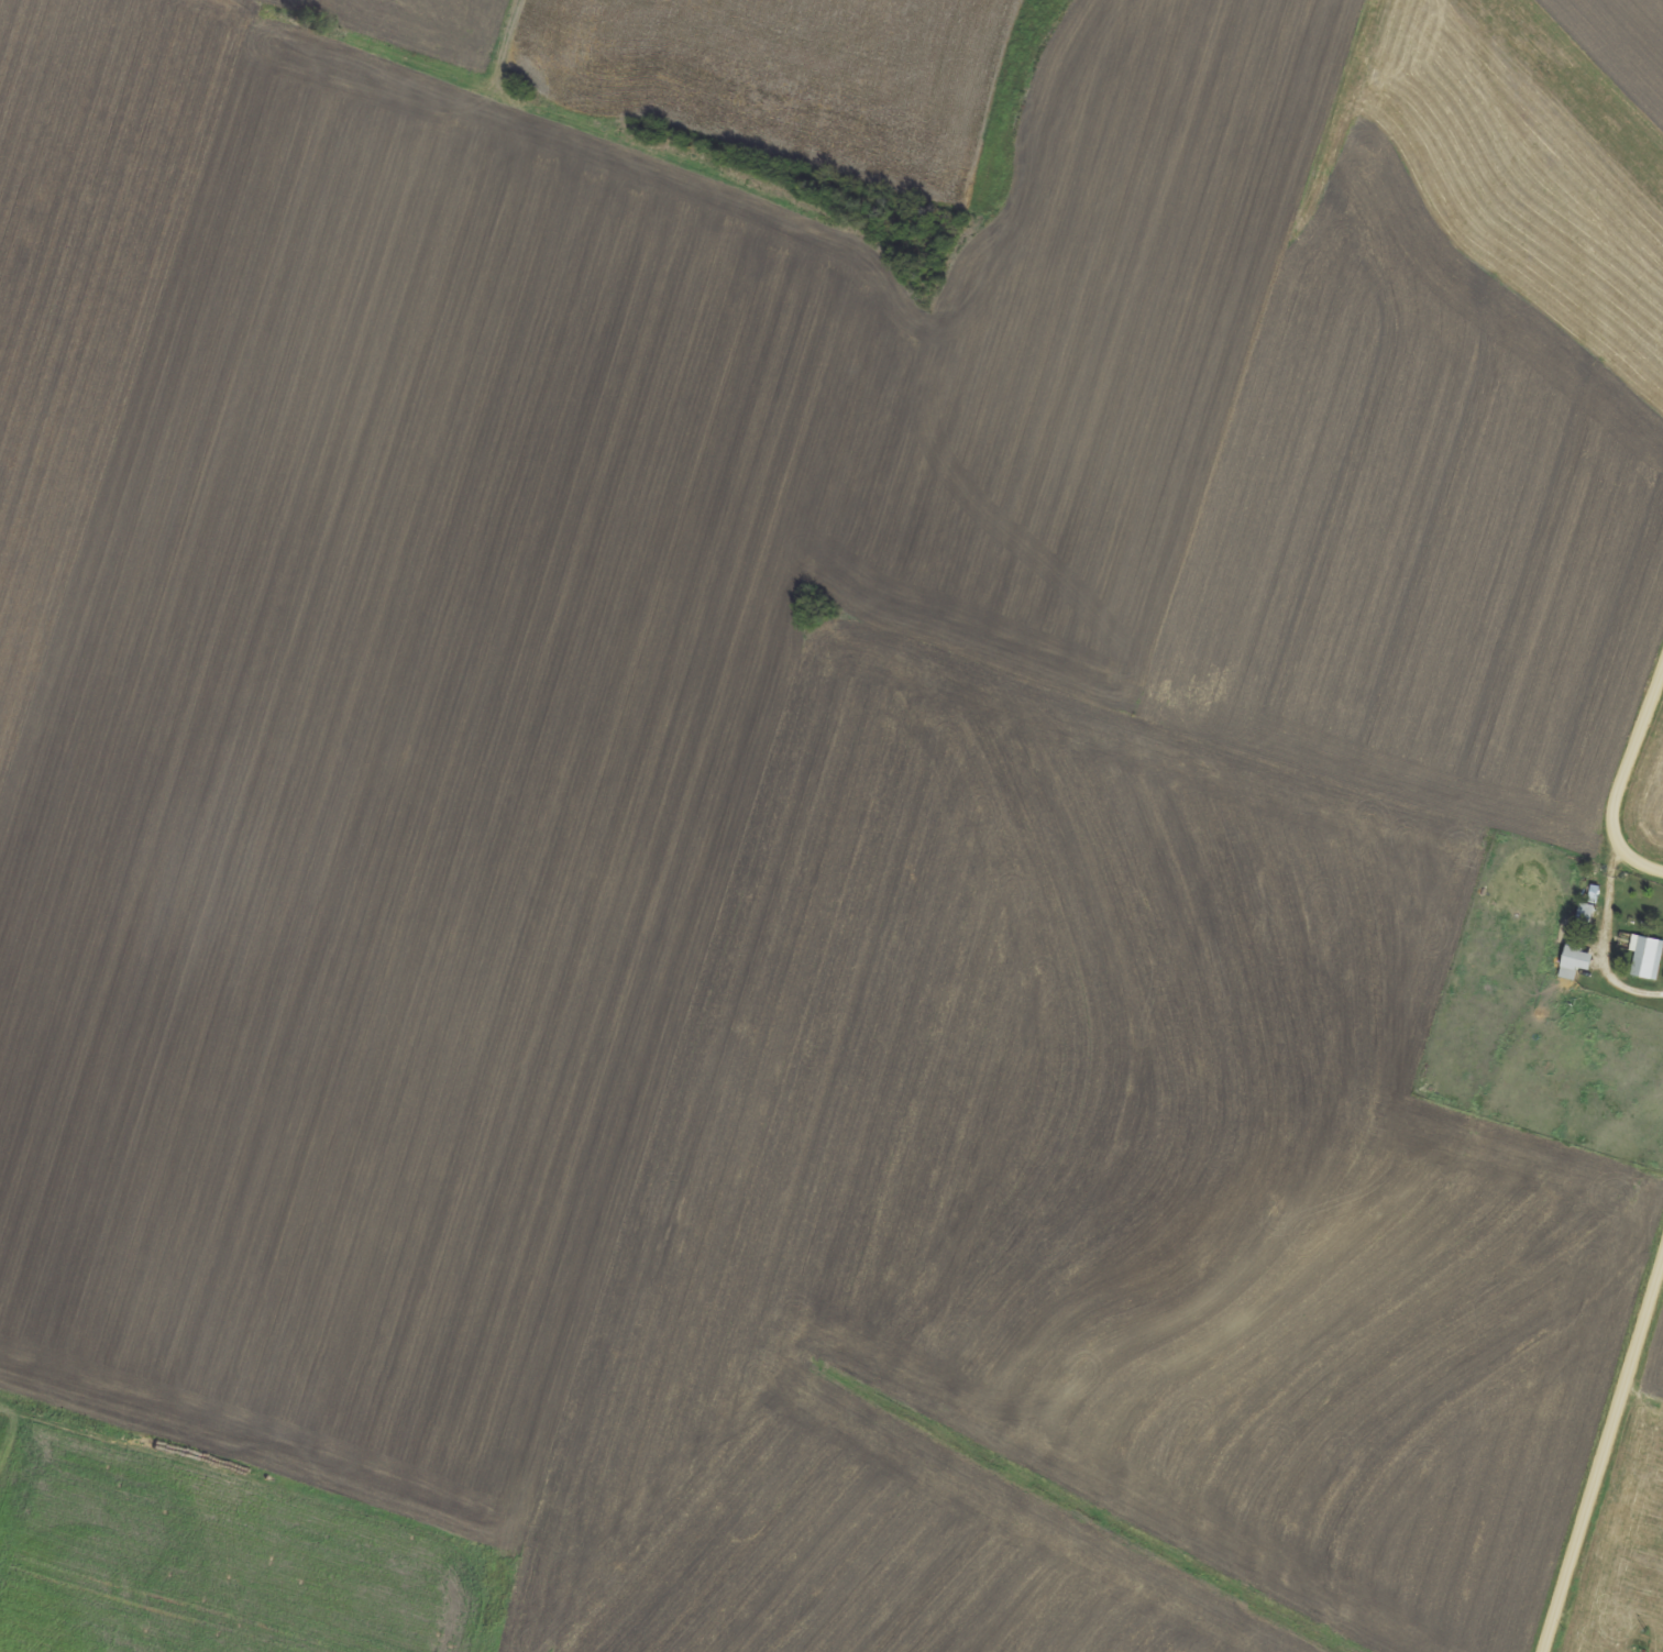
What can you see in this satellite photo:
road: (1618, 781)
road: (1601, 941)
building: (1644, 957)
building: (1571, 959)
road: (1603, 1451)

